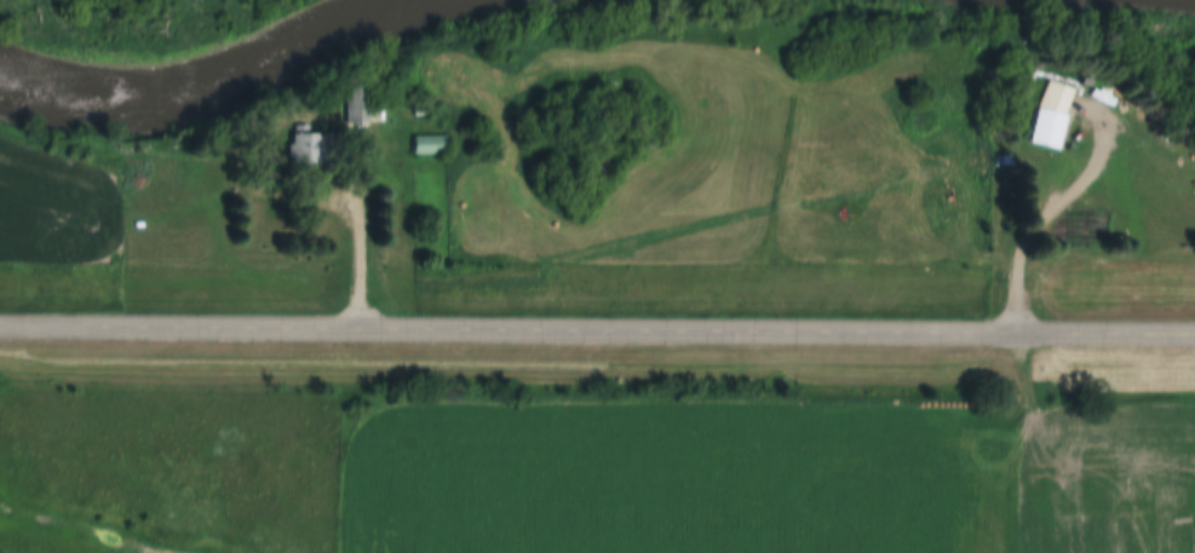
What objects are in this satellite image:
river: (202, 79)
building: (1040, 116)
road: (323, 119)
building: (436, 146)
building: (322, 149)
road: (1061, 206)
road: (597, 329)

